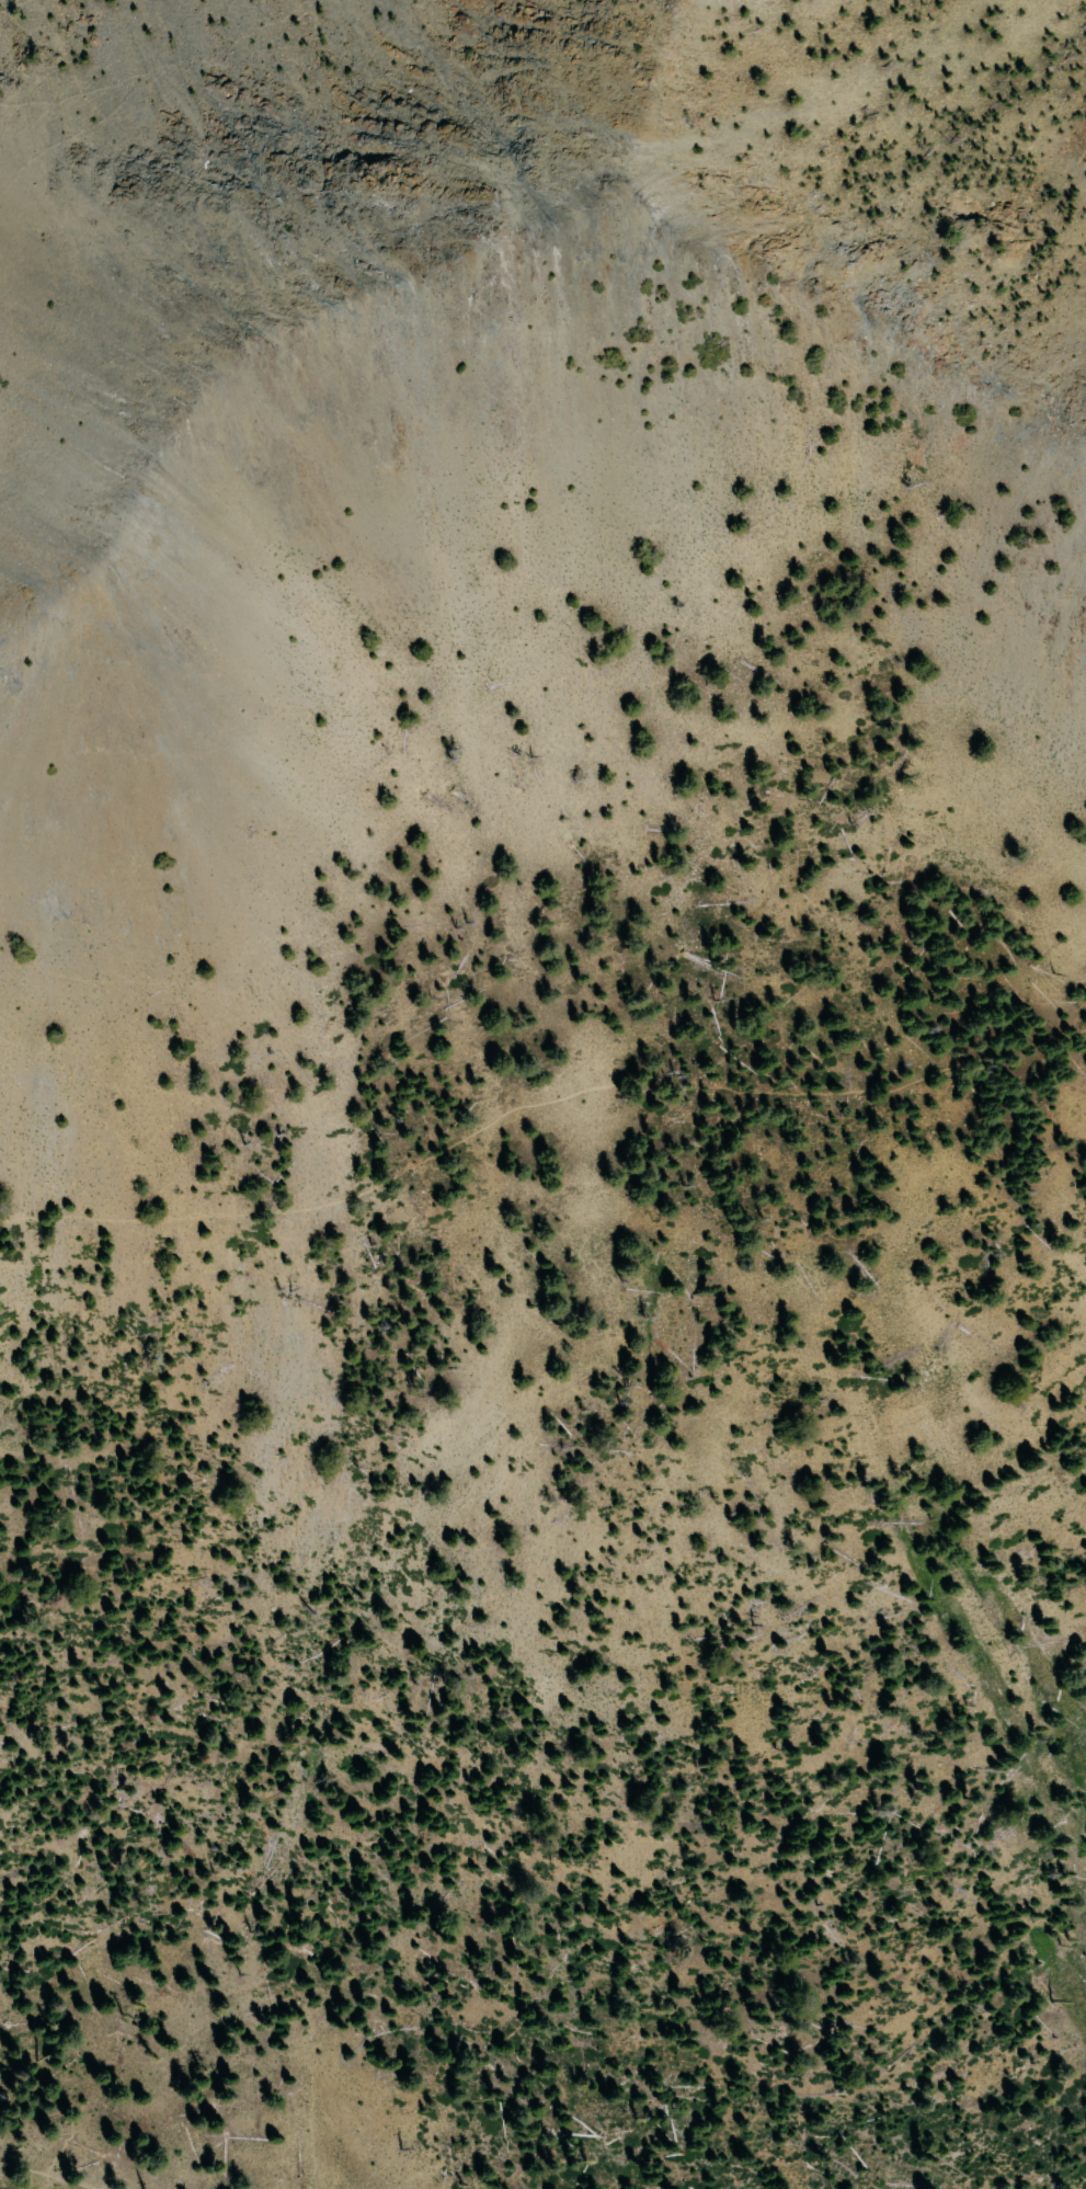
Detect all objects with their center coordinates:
road: (537, 1096)
road: (152, 2164)

